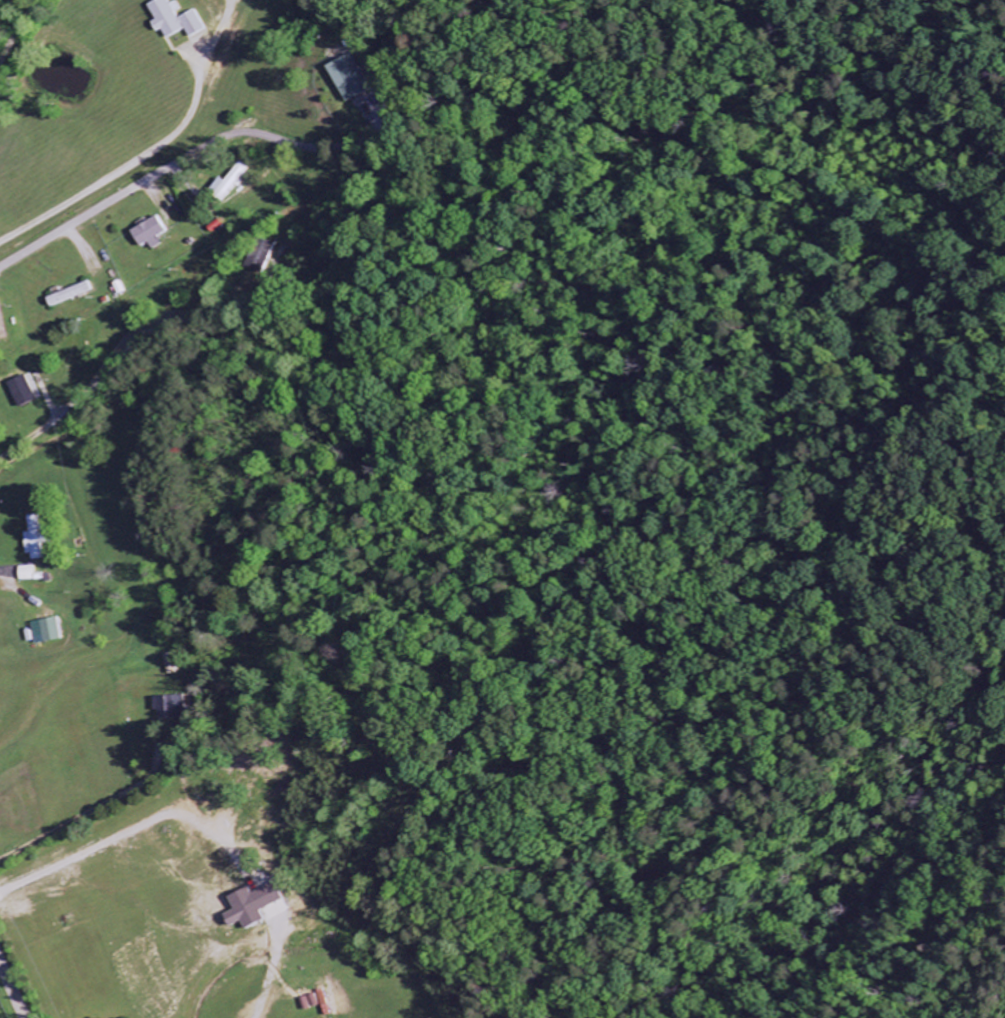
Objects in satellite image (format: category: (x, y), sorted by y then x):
building: (173, 20)
building: (354, 78)
road: (152, 154)
road: (182, 159)
building: (228, 183)
building: (149, 233)
building: (263, 256)
building: (75, 295)
building: (29, 392)
road: (120, 499)
building: (38, 538)
building: (29, 574)
building: (51, 631)
building: (175, 709)
building: (257, 906)
road: (12, 987)
road: (892, 1016)

